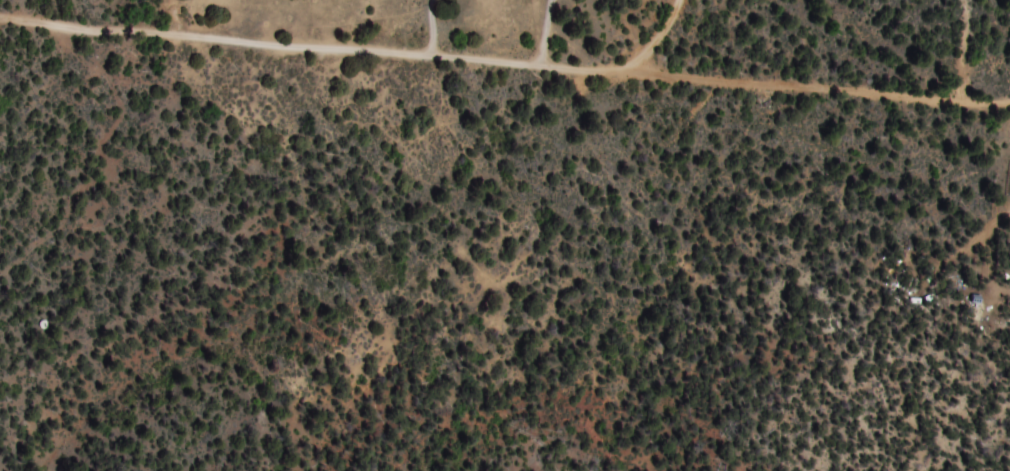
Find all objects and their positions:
road: (648, 45)
road: (504, 61)

